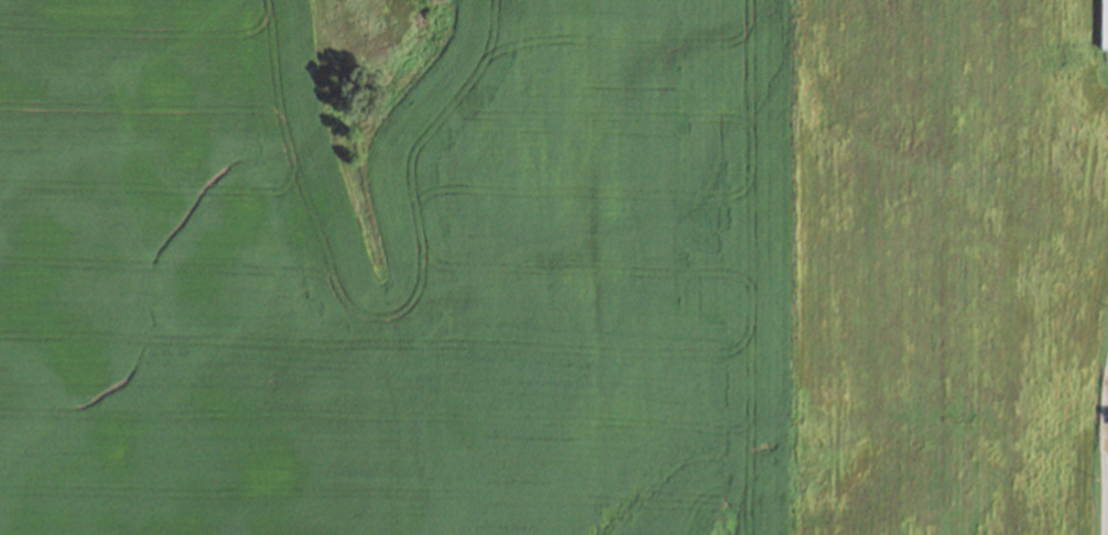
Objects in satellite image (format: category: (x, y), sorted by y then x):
building: (1105, 24)
crop: (537, 266)

